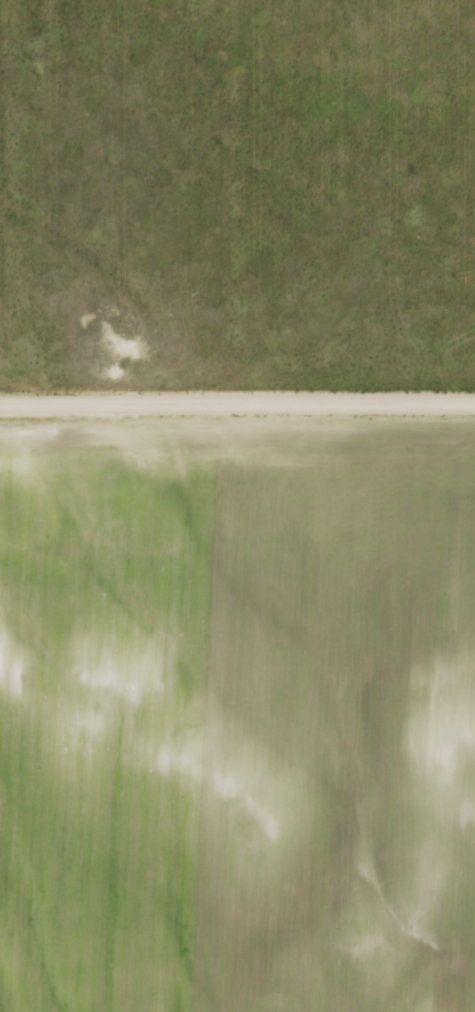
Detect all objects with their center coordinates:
road: (237, 402)

